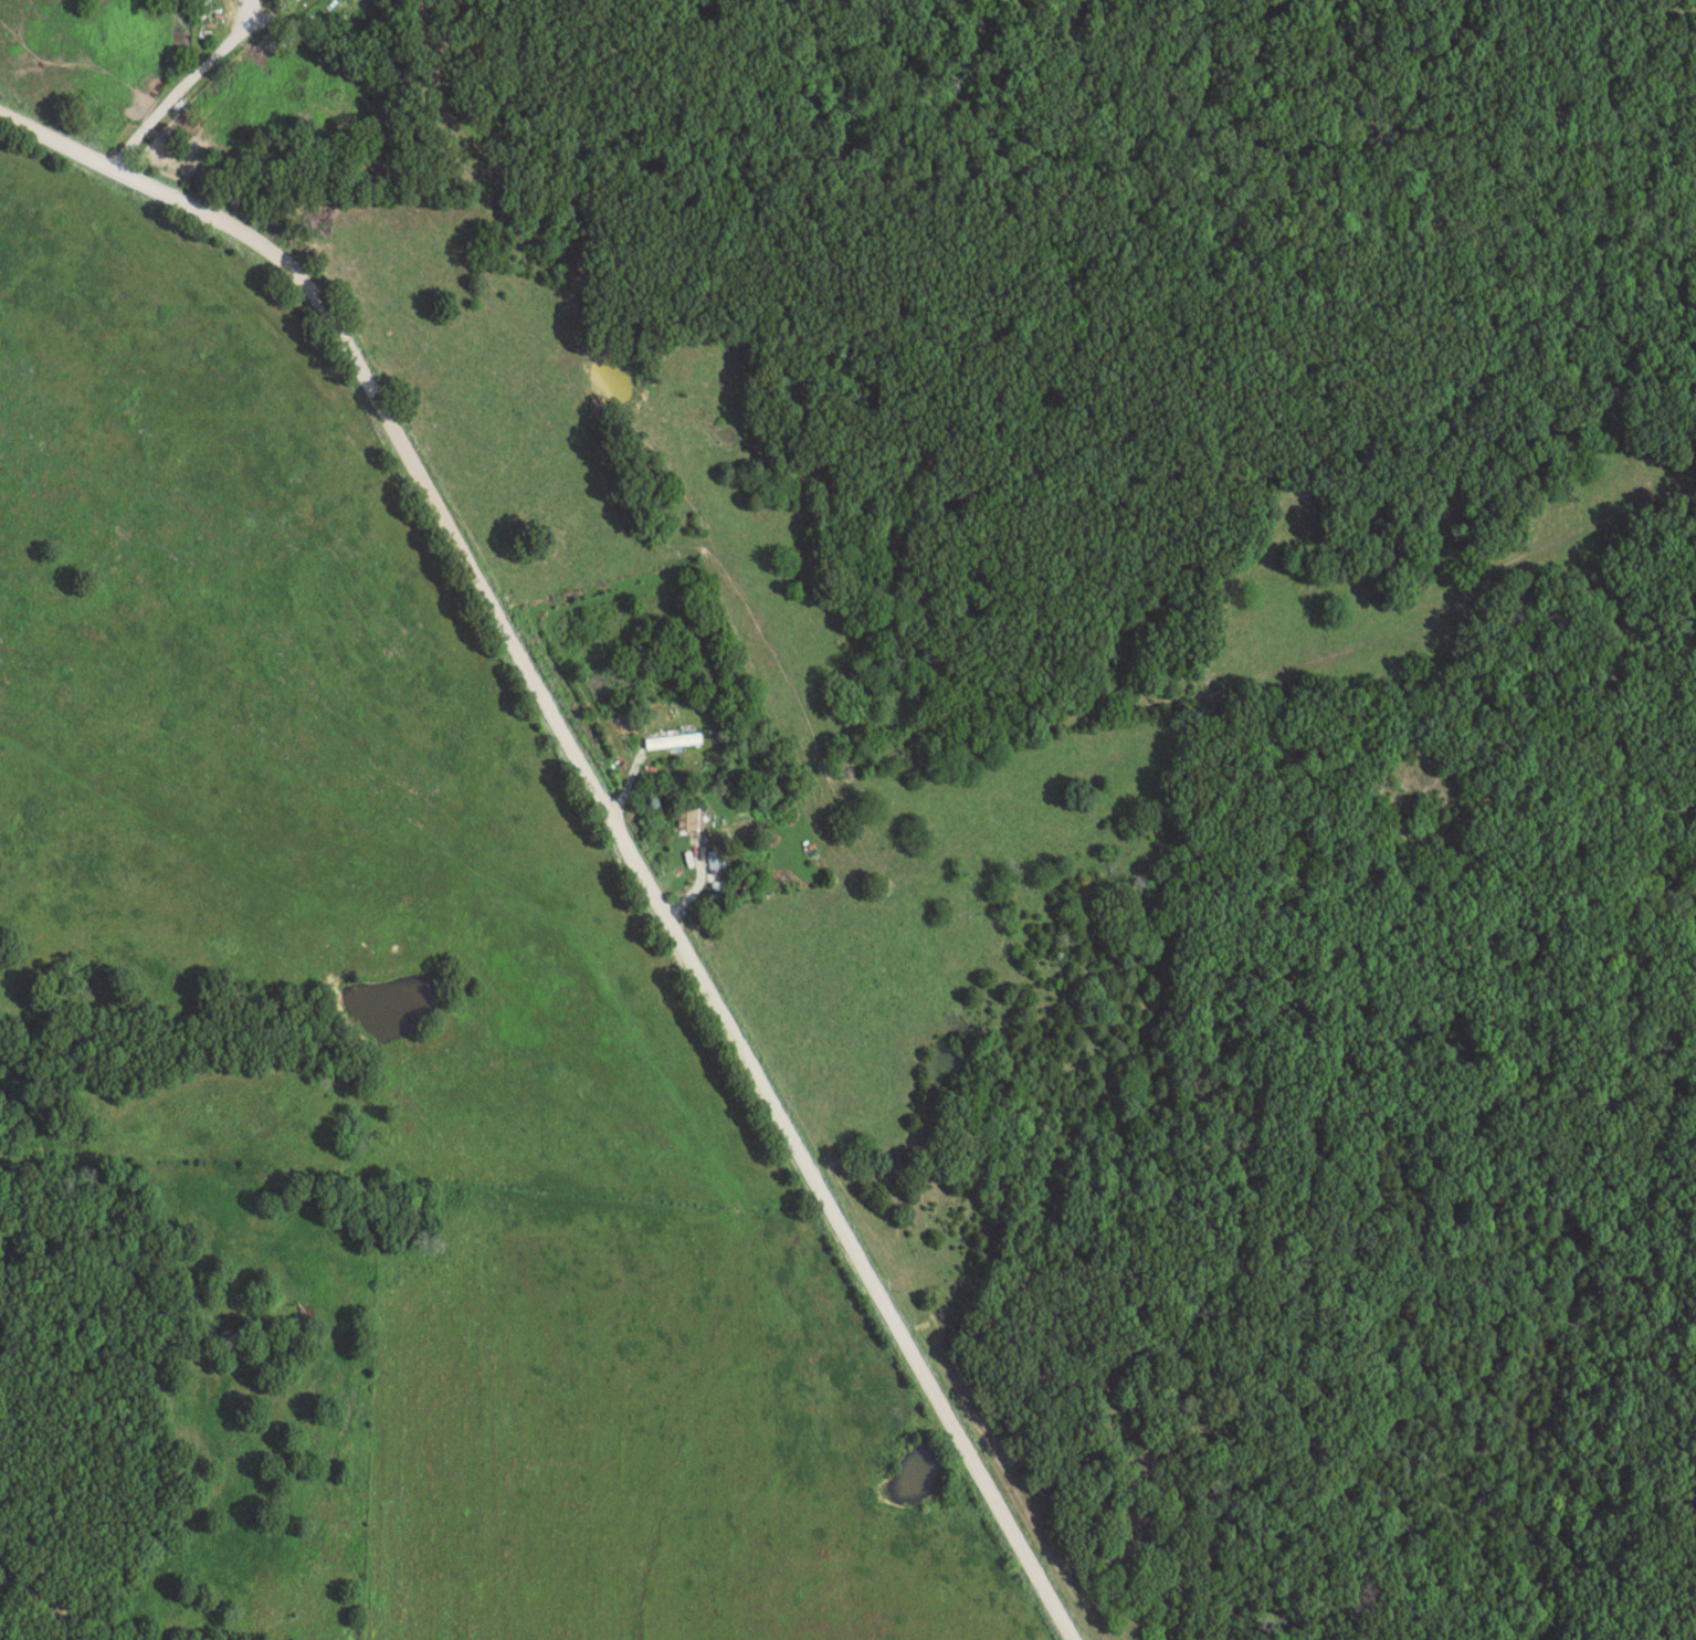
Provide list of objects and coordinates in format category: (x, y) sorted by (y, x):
road: (188, 84)
road: (607, 806)
building: (689, 819)
building: (719, 859)

